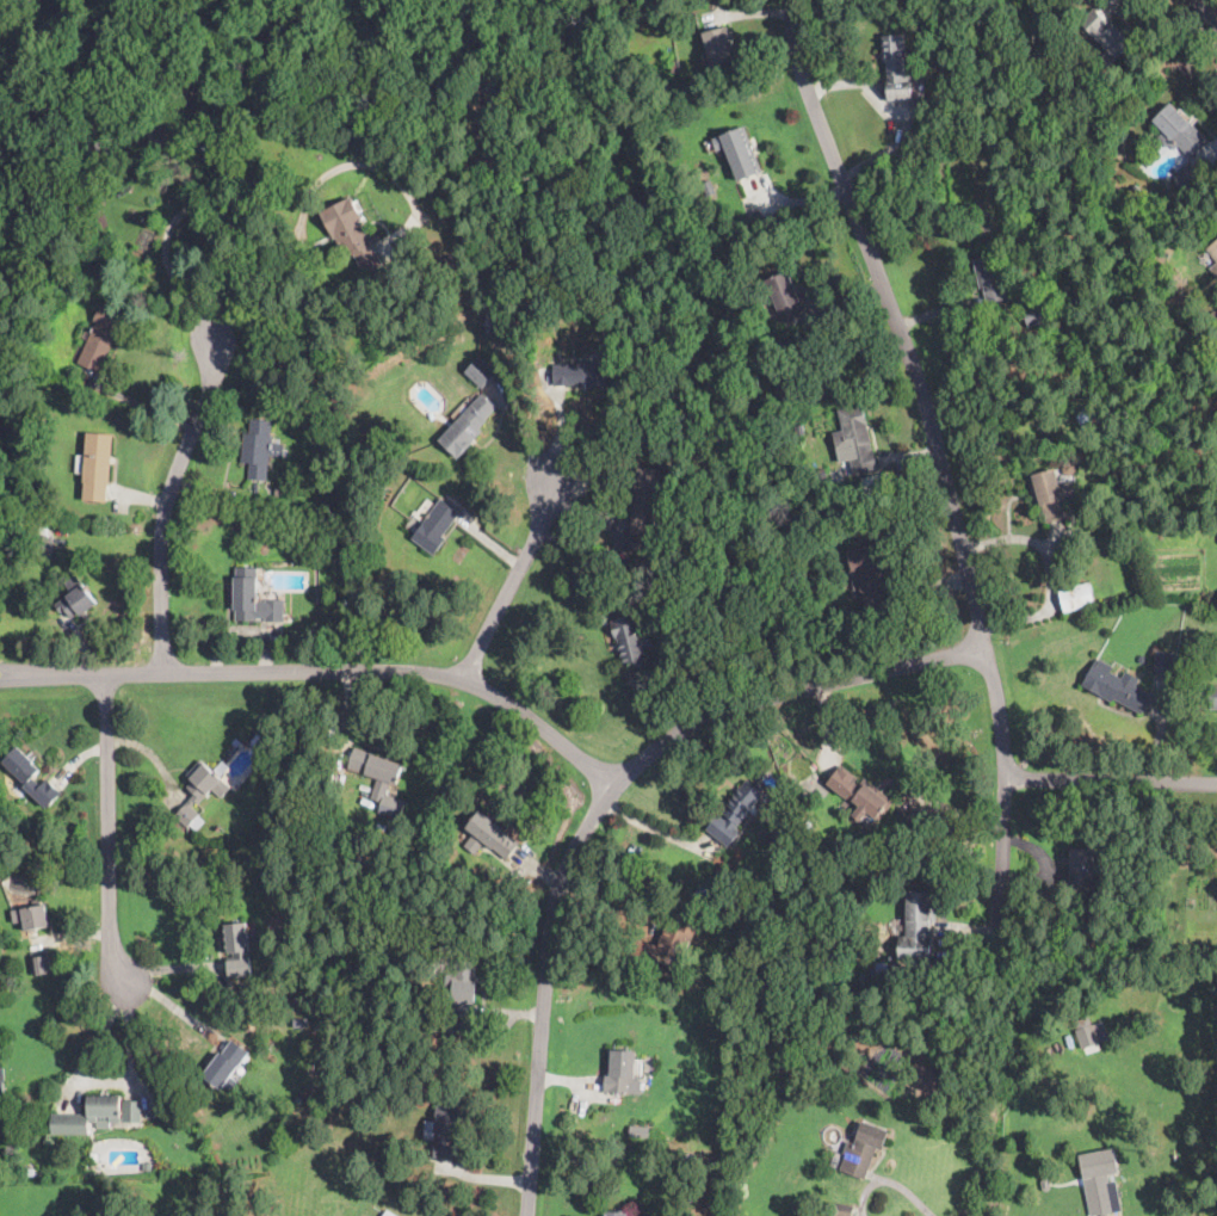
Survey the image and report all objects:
road: (1206, 10)
building: (1104, 33)
building: (718, 44)
building: (675, 66)
building: (900, 69)
building: (190, 86)
building: (1079, 94)
building: (480, 100)
building: (493, 112)
building: (169, 128)
building: (1179, 130)
building: (113, 137)
building: (740, 152)
building: (1186, 178)
building: (711, 189)
building: (1133, 192)
road: (303, 210)
building: (353, 235)
building: (1187, 245)
building: (1213, 249)
building: (1207, 257)
building: (42, 261)
road: (166, 261)
building: (1213, 270)
building: (991, 277)
building: (532, 291)
building: (785, 295)
building: (1036, 314)
building: (1213, 315)
road: (898, 321)
building: (1040, 337)
building: (103, 338)
building: (777, 369)
building: (481, 372)
building: (583, 375)
building: (1087, 412)
building: (469, 425)
building: (799, 430)
building: (855, 439)
building: (260, 449)
building: (98, 465)
building: (823, 480)
building: (274, 492)
building: (1052, 492)
building: (647, 500)
road: (169, 507)
building: (435, 526)
building: (44, 544)
building: (340, 557)
building: (674, 557)
building: (871, 576)
road: (514, 584)
building: (653, 586)
building: (1076, 598)
building: (76, 599)
building: (254, 599)
building: (634, 641)
building: (1166, 663)
road: (326, 673)
building: (1116, 686)
building: (1213, 697)
building: (261, 737)
building: (378, 771)
building: (32, 777)
road: (1112, 783)
building: (202, 792)
building: (861, 795)
road: (1007, 801)
road: (605, 804)
building: (394, 808)
building: (313, 809)
building: (735, 811)
building: (808, 826)
road: (109, 832)
building: (494, 835)
building: (0, 859)
building: (375, 860)
building: (1082, 869)
building: (32, 915)
building: (919, 927)
building: (668, 946)
building: (239, 949)
building: (42, 964)
building: (897, 975)
building: (912, 976)
building: (464, 986)
building: (379, 1010)
building: (302, 1023)
building: (1088, 1037)
building: (227, 1066)
building: (623, 1074)
road: (100, 1082)
building: (2, 1098)
building: (152, 1115)
building: (98, 1116)
building: (452, 1128)
building: (861, 1148)
building: (148, 1167)
building: (29, 1172)
road: (889, 1179)
building: (1045, 1184)
building: (1099, 1184)
building: (842, 1209)
building: (618, 1212)
building: (389, 1214)
building: (1129, 1214)

